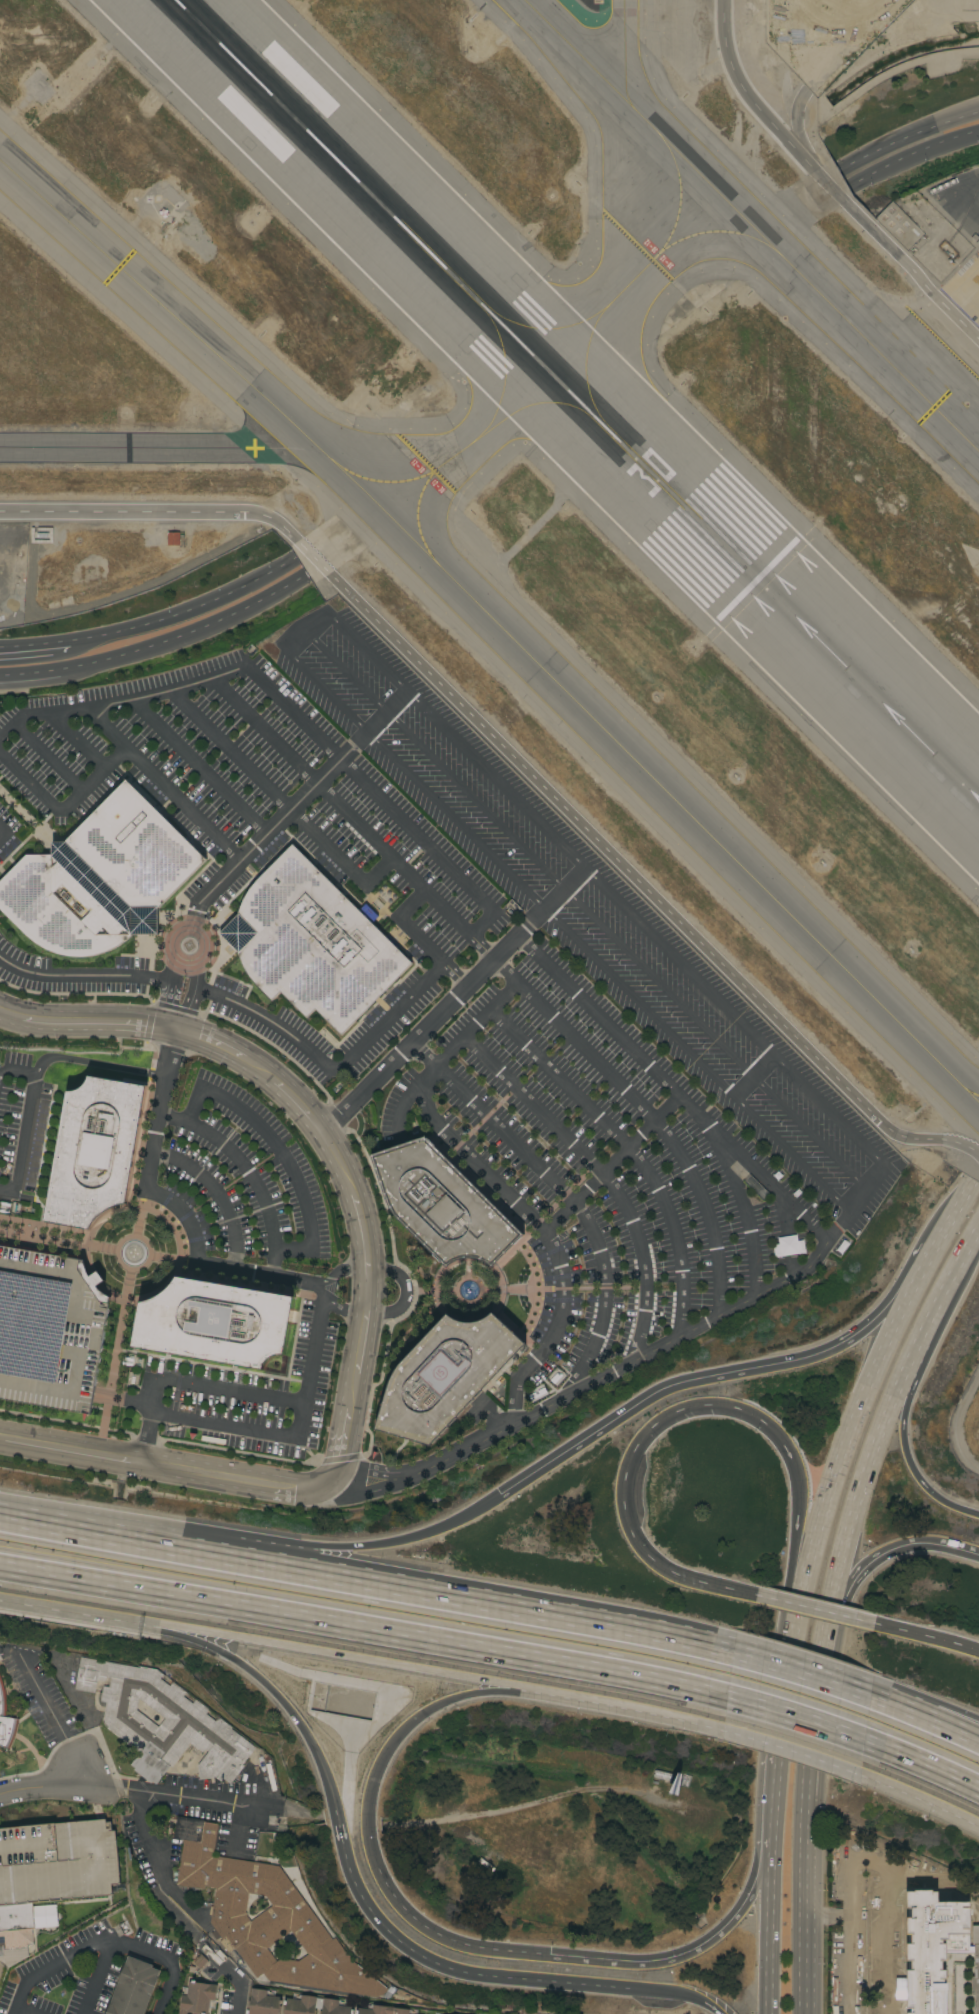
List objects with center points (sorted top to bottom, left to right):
airport taxiway: (623, 49)
road: (904, 137)
road: (912, 153)
road: (821, 177)
airport taxiway: (752, 228)
airport taxiway: (637, 287)
airport runway: (575, 400)
airport: (549, 437)
airport taxiway: (468, 444)
airport taxiway: (157, 451)
building: (173, 539)
road: (183, 610)
airport taxiway: (498, 625)
road: (287, 641)
road: (34, 644)
road: (157, 645)
road: (118, 703)
road: (384, 714)
road: (443, 731)
road: (77, 740)
road: (48, 759)
road: (431, 762)
road: (518, 762)
road: (198, 767)
road: (411, 780)
road: (160, 785)
road: (280, 803)
road: (62, 808)
road: (271, 827)
road: (2, 835)
building: (135, 850)
building: (66, 904)
road: (475, 932)
building: (311, 943)
fountain: (188, 946)
fountain: (189, 946)
road: (481, 951)
road: (184, 967)
road: (454, 977)
road: (166, 993)
road: (193, 997)
road: (454, 1001)
road: (86, 1023)
road: (294, 1038)
road: (223, 1051)
road: (425, 1055)
road: (444, 1059)
road: (94, 1064)
road: (706, 1070)
road: (754, 1078)
road: (671, 1089)
road: (298, 1102)
road: (649, 1116)
road: (26, 1122)
building: (95, 1151)
road: (630, 1153)
road: (279, 1155)
road: (611, 1162)
road: (246, 1174)
road: (603, 1175)
road: (871, 1181)
road: (216, 1196)
building: (441, 1204)
road: (744, 1206)
road: (178, 1211)
road: (580, 1214)
road: (955, 1214)
road: (789, 1237)
road: (552, 1245)
fountain: (133, 1253)
road: (367, 1258)
road: (346, 1273)
road: (920, 1279)
road: (949, 1287)
fountain: (468, 1291)
road: (404, 1292)
road: (344, 1311)
helipad: (209, 1320)
road: (882, 1320)
building: (215, 1323)
building: (49, 1329)
parking lot: (49, 1329)
helipad: (438, 1372)
helipad: (445, 1373)
building: (445, 1376)
road: (595, 1383)
road: (910, 1383)
road: (188, 1385)
road: (669, 1385)
airport: (967, 1424)
road: (1, 1437)
road: (293, 1438)
road: (849, 1440)
road: (342, 1447)
road: (72, 1451)
road: (791, 1464)
road: (868, 1470)
road: (228, 1479)
road: (623, 1482)
road: (922, 1483)
traffic signals: (498, 1494)
road: (428, 1532)
road: (116, 1541)
road: (801, 1541)
road: (920, 1543)
road: (314, 1558)
road: (255, 1566)
road: (847, 1583)
road: (494, 1608)
road: (76, 1609)
road: (812, 1609)
road: (354, 1623)
road: (928, 1637)
road: (191, 1639)
road: (330, 1653)
road: (790, 1665)
road: (799, 1674)
road: (492, 1688)
parking lot: (38, 1691)
road: (817, 1699)
road: (613, 1702)
road: (49, 1712)
road: (791, 1713)
road: (907, 1713)
building: (6, 1722)
building: (161, 1722)
road: (298, 1723)
road: (954, 1728)
road: (84, 1731)
road: (954, 1733)
road: (29, 1748)
road: (794, 1748)
road: (383, 1755)
road: (927, 1763)
building: (662, 1775)
road: (39, 1778)
road: (115, 1780)
road: (166, 1794)
road: (551, 1795)
road: (924, 1797)
parking lot: (228, 1805)
road: (287, 1814)
road: (772, 1821)
road: (864, 1860)
road: (153, 1861)
building: (50, 1874)
building: (294, 1875)
road: (756, 1891)
road: (804, 1904)
building: (265, 1916)
road: (447, 1938)
road: (885, 1941)
road: (107, 1945)
road: (767, 1948)
building: (926, 1952)
traffic signals: (549, 1954)
road: (657, 1960)
road: (450, 1964)
road: (848, 1965)
parking lot: (63, 1978)
road: (98, 1978)
building: (975, 1979)
building: (1, 1983)
parking lot: (167, 1985)
building: (134, 1988)
road: (689, 1993)
building: (197, 1998)
parking lot: (227, 2001)
road: (238, 2001)
building: (263, 2003)
building: (314, 2006)
building: (382, 2010)
road: (21, 2012)

